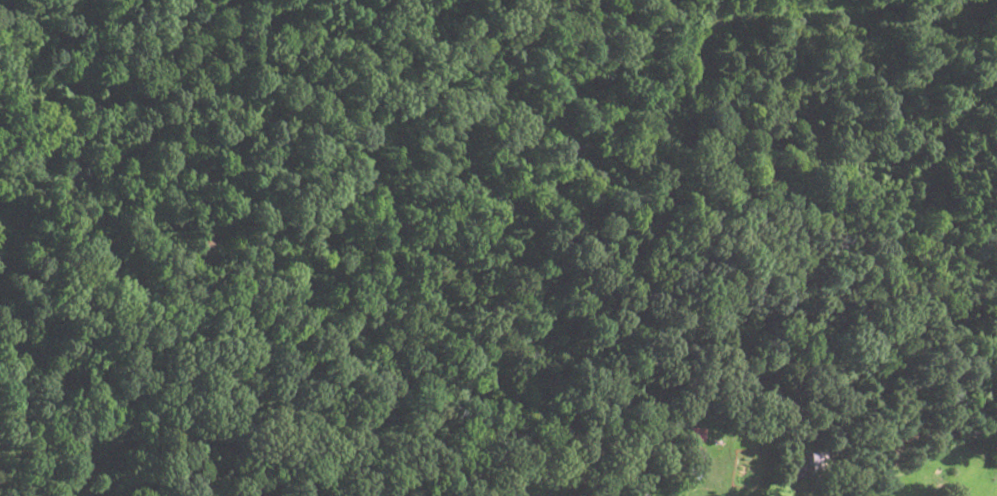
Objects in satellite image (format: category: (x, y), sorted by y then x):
road: (224, 252)
building: (693, 434)
building: (689, 459)
building: (814, 463)

